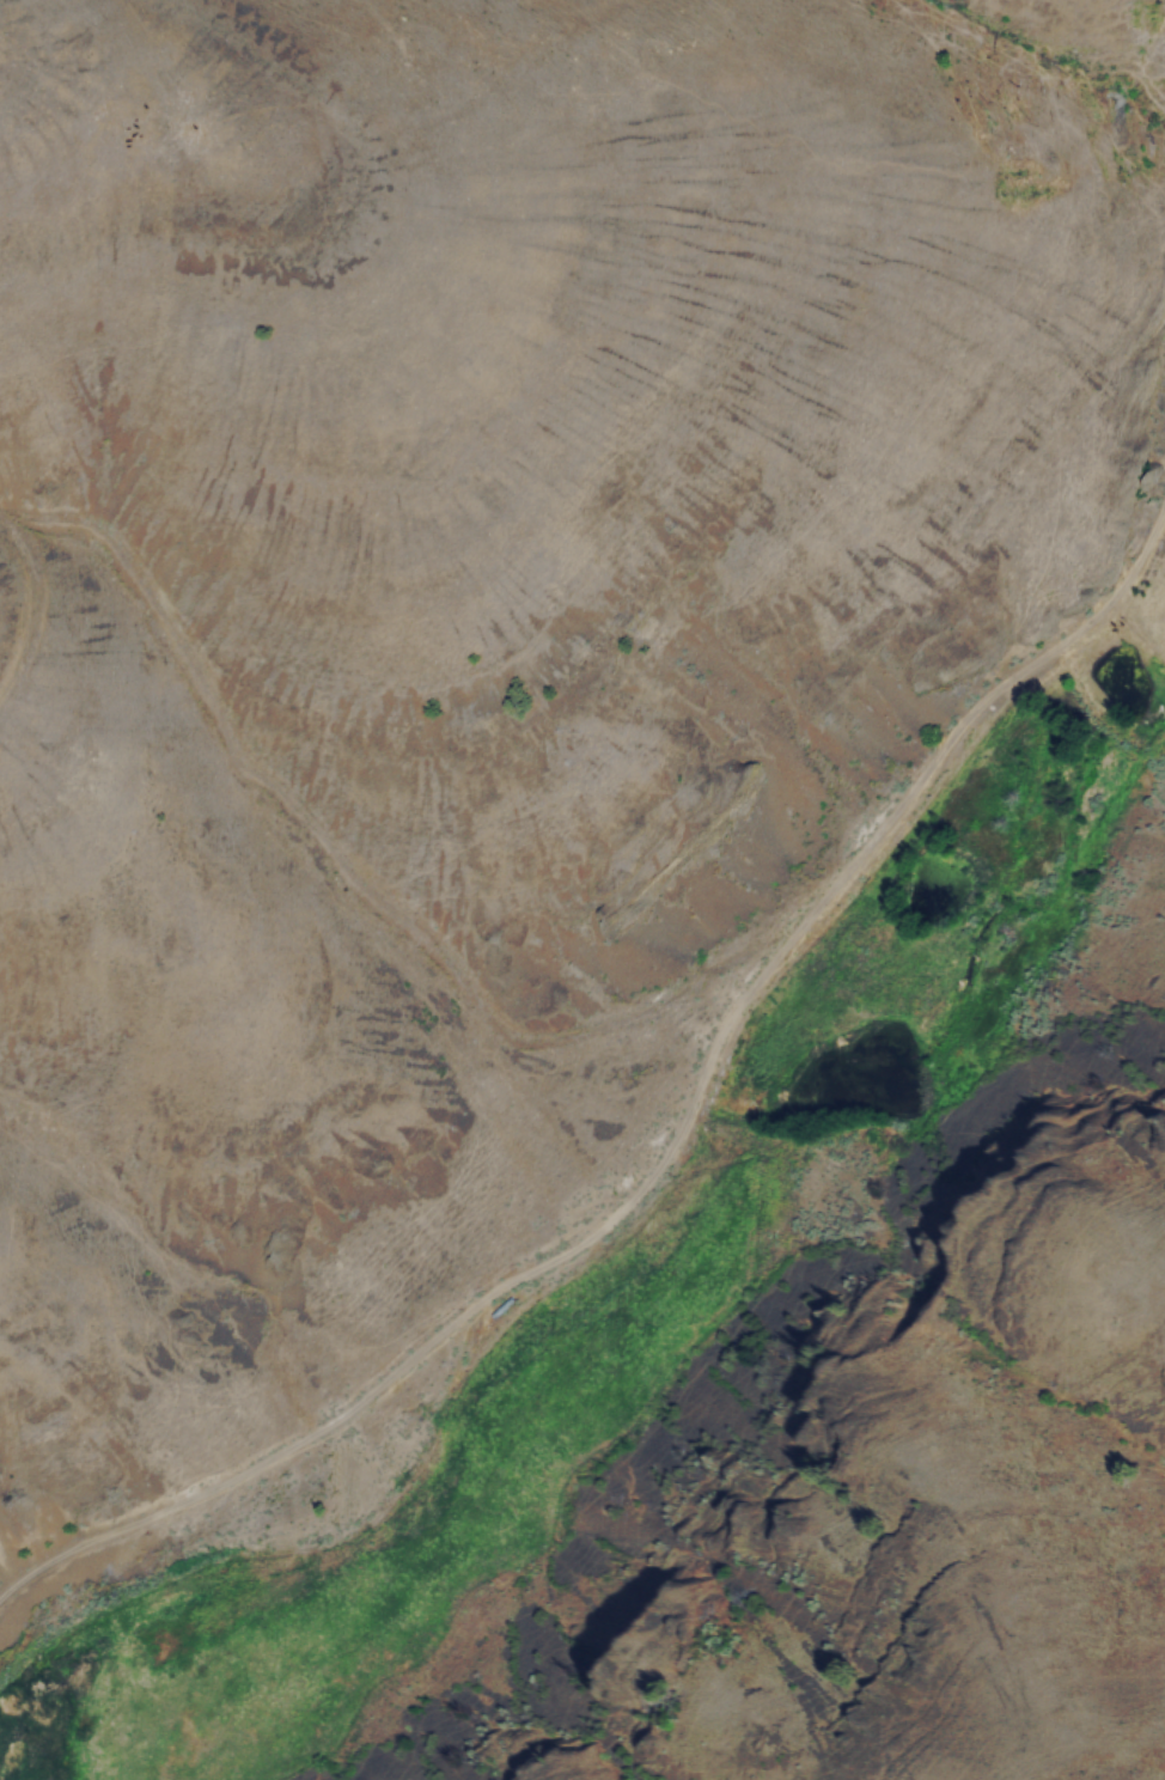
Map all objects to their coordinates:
road: (670, 1142)

